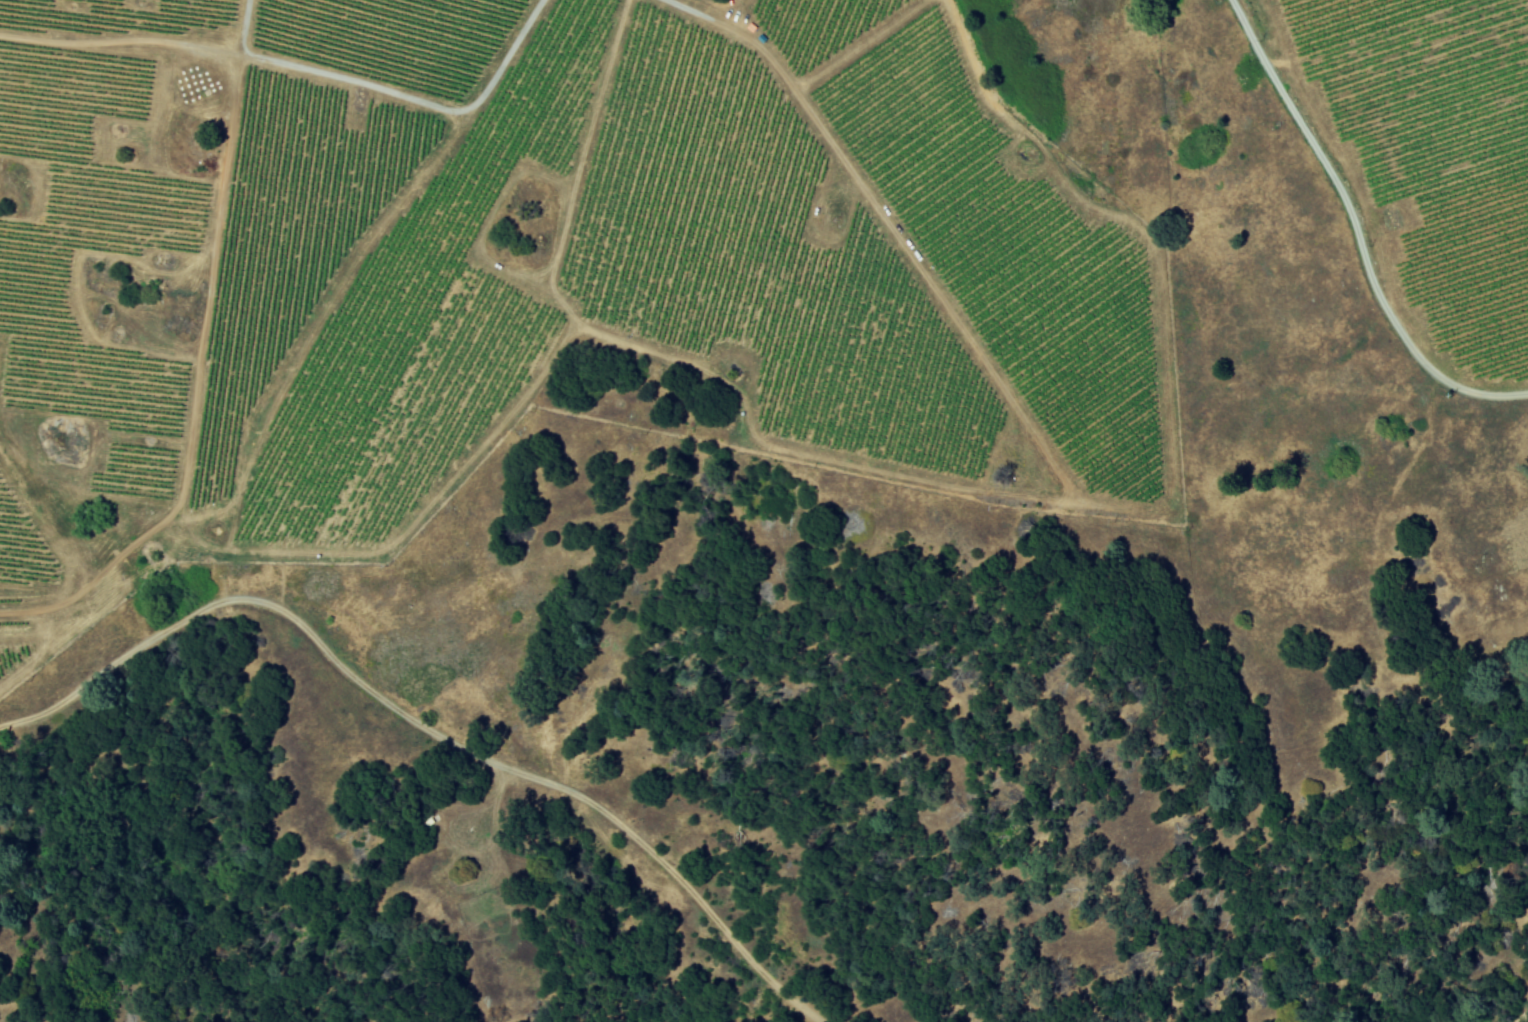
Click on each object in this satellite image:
road: (1357, 232)
crop: (98, 278)
road: (422, 727)
road: (1521, 1015)

